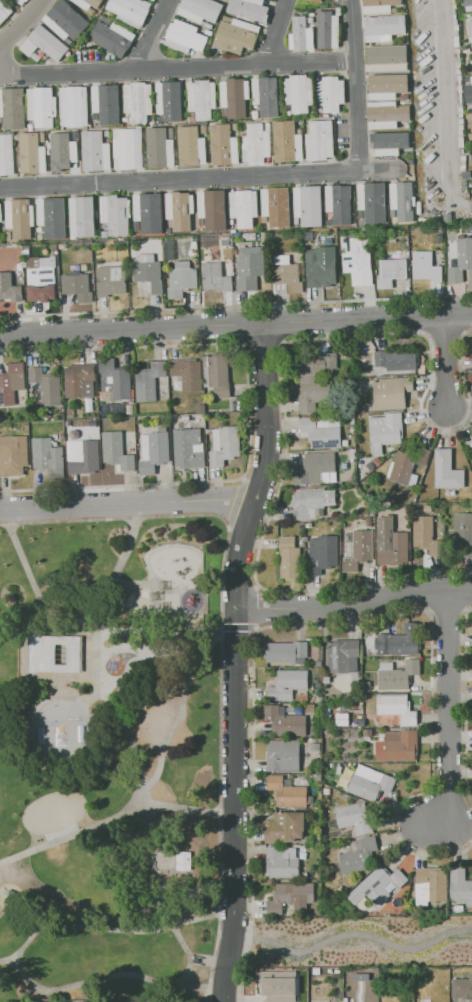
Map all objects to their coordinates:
building: (317, 1)
building: (453, 1)
building: (20, 2)
building: (86, 3)
building: (468, 5)
building: (378, 6)
building: (454, 6)
building: (249, 9)
building: (4, 10)
building: (199, 10)
building: (337, 10)
building: (394, 10)
building: (90, 11)
building: (130, 11)
building: (454, 11)
building: (454, 17)
building: (105, 19)
building: (311, 19)
building: (65, 20)
building: (309, 20)
building: (455, 22)
road: (22, 24)
building: (456, 27)
building: (383, 28)
building: (327, 30)
road: (277, 31)
building: (470, 31)
road: (151, 34)
building: (455, 34)
building: (300, 35)
building: (184, 36)
building: (236, 36)
building: (112, 38)
building: (455, 38)
building: (68, 41)
building: (44, 43)
building: (456, 43)
building: (466, 49)
building: (458, 51)
building: (471, 51)
building: (36, 57)
building: (387, 57)
building: (459, 57)
building: (458, 65)
road: (176, 67)
building: (457, 71)
building: (468, 79)
building: (459, 82)
road: (355, 85)
building: (388, 85)
building: (459, 89)
building: (470, 91)
building: (298, 93)
building: (331, 93)
building: (266, 95)
building: (234, 97)
building: (404, 97)
building: (202, 98)
building: (169, 100)
building: (460, 100)
building: (137, 101)
building: (105, 103)
building: (41, 106)
building: (73, 107)
building: (13, 109)
road: (450, 109)
building: (460, 109)
building: (223, 112)
building: (287, 112)
building: (386, 114)
building: (460, 114)
building: (125, 115)
building: (255, 115)
building: (319, 115)
building: (325, 115)
building: (94, 116)
building: (191, 116)
building: (469, 116)
building: (0, 119)
building: (460, 121)
building: (470, 123)
building: (407, 125)
building: (30, 126)
building: (266, 126)
building: (461, 127)
building: (234, 128)
building: (178, 131)
building: (298, 131)
building: (74, 132)
building: (171, 132)
building: (461, 132)
building: (107, 134)
building: (41, 137)
building: (74, 137)
building: (461, 138)
building: (319, 140)
building: (286, 141)
building: (390, 143)
building: (255, 144)
building: (461, 144)
building: (223, 145)
building: (191, 146)
building: (127, 148)
building: (159, 148)
building: (94, 151)
building: (462, 151)
building: (32, 153)
building: (6, 154)
building: (64, 155)
building: (463, 158)
building: (463, 162)
building: (463, 168)
building: (466, 175)
road: (200, 178)
building: (469, 184)
building: (464, 185)
building: (402, 200)
building: (372, 202)
building: (339, 203)
building: (307, 205)
building: (243, 207)
building: (276, 207)
building: (212, 209)
building: (180, 210)
building: (419, 210)
building: (148, 212)
building: (1, 213)
building: (115, 213)
building: (360, 214)
building: (392, 214)
building: (52, 216)
building: (19, 217)
building: (82, 217)
building: (264, 219)
building: (296, 220)
building: (231, 221)
building: (328, 222)
building: (361, 222)
building: (200, 223)
building: (136, 227)
building: (439, 229)
building: (233, 231)
building: (104, 234)
building: (255, 234)
building: (9, 235)
building: (263, 235)
building: (40, 236)
building: (219, 236)
building: (225, 242)
building: (63, 245)
building: (194, 245)
building: (402, 246)
building: (439, 246)
building: (169, 250)
building: (273, 251)
building: (331, 251)
building: (461, 260)
building: (357, 261)
building: (20, 267)
building: (425, 268)
building: (249, 269)
building: (319, 269)
building: (148, 272)
building: (391, 272)
building: (285, 273)
building: (39, 277)
building: (215, 277)
building: (181, 279)
building: (111, 280)
building: (77, 286)
building: (10, 289)
road: (236, 306)
road: (368, 320)
road: (132, 331)
building: (397, 359)
road: (443, 362)
building: (317, 363)
building: (187, 373)
building: (216, 375)
building: (114, 379)
building: (79, 381)
building: (148, 381)
building: (12, 383)
building: (46, 386)
building: (391, 391)
building: (313, 395)
building: (233, 407)
building: (130, 409)
building: (361, 409)
building: (71, 412)
building: (185, 418)
building: (351, 421)
building: (385, 431)
building: (320, 433)
building: (56, 437)
building: (223, 445)
building: (471, 445)
building: (188, 448)
building: (117, 451)
building: (152, 452)
building: (352, 454)
building: (13, 455)
building: (83, 456)
building: (47, 457)
building: (376, 461)
building: (408, 463)
building: (371, 466)
building: (315, 467)
road: (263, 469)
building: (447, 471)
building: (310, 501)
road: (127, 503)
building: (434, 506)
building: (427, 507)
building: (369, 522)
building: (463, 527)
building: (422, 531)
building: (394, 549)
building: (359, 551)
building: (321, 554)
building: (289, 558)
road: (32, 588)
road: (353, 603)
building: (398, 643)
building: (286, 652)
building: (52, 653)
building: (344, 656)
fountain: (112, 666)
building: (397, 675)
building: (326, 679)
building: (288, 684)
building: (366, 686)
building: (302, 697)
building: (311, 708)
building: (396, 708)
building: (297, 710)
road: (449, 717)
building: (284, 721)
road: (174, 723)
building: (360, 723)
park: (59, 727)
building: (367, 732)
building: (401, 745)
building: (314, 747)
building: (283, 755)
park: (110, 756)
road: (233, 760)
building: (317, 778)
building: (370, 783)
building: (327, 791)
building: (286, 792)
road: (178, 807)
park: (53, 811)
building: (354, 818)
building: (286, 827)
road: (150, 830)
road: (71, 834)
building: (317, 839)
building: (359, 855)
building: (183, 860)
building: (283, 861)
building: (311, 877)
building: (430, 885)
building: (377, 886)
building: (460, 886)
building: (340, 890)
building: (289, 895)
road: (254, 939)
road: (26, 940)
park: (362, 940)
road: (223, 956)
building: (316, 971)
building: (330, 971)
building: (337, 971)
building: (361, 977)
road: (190, 987)
building: (278, 988)
building: (345, 1000)

